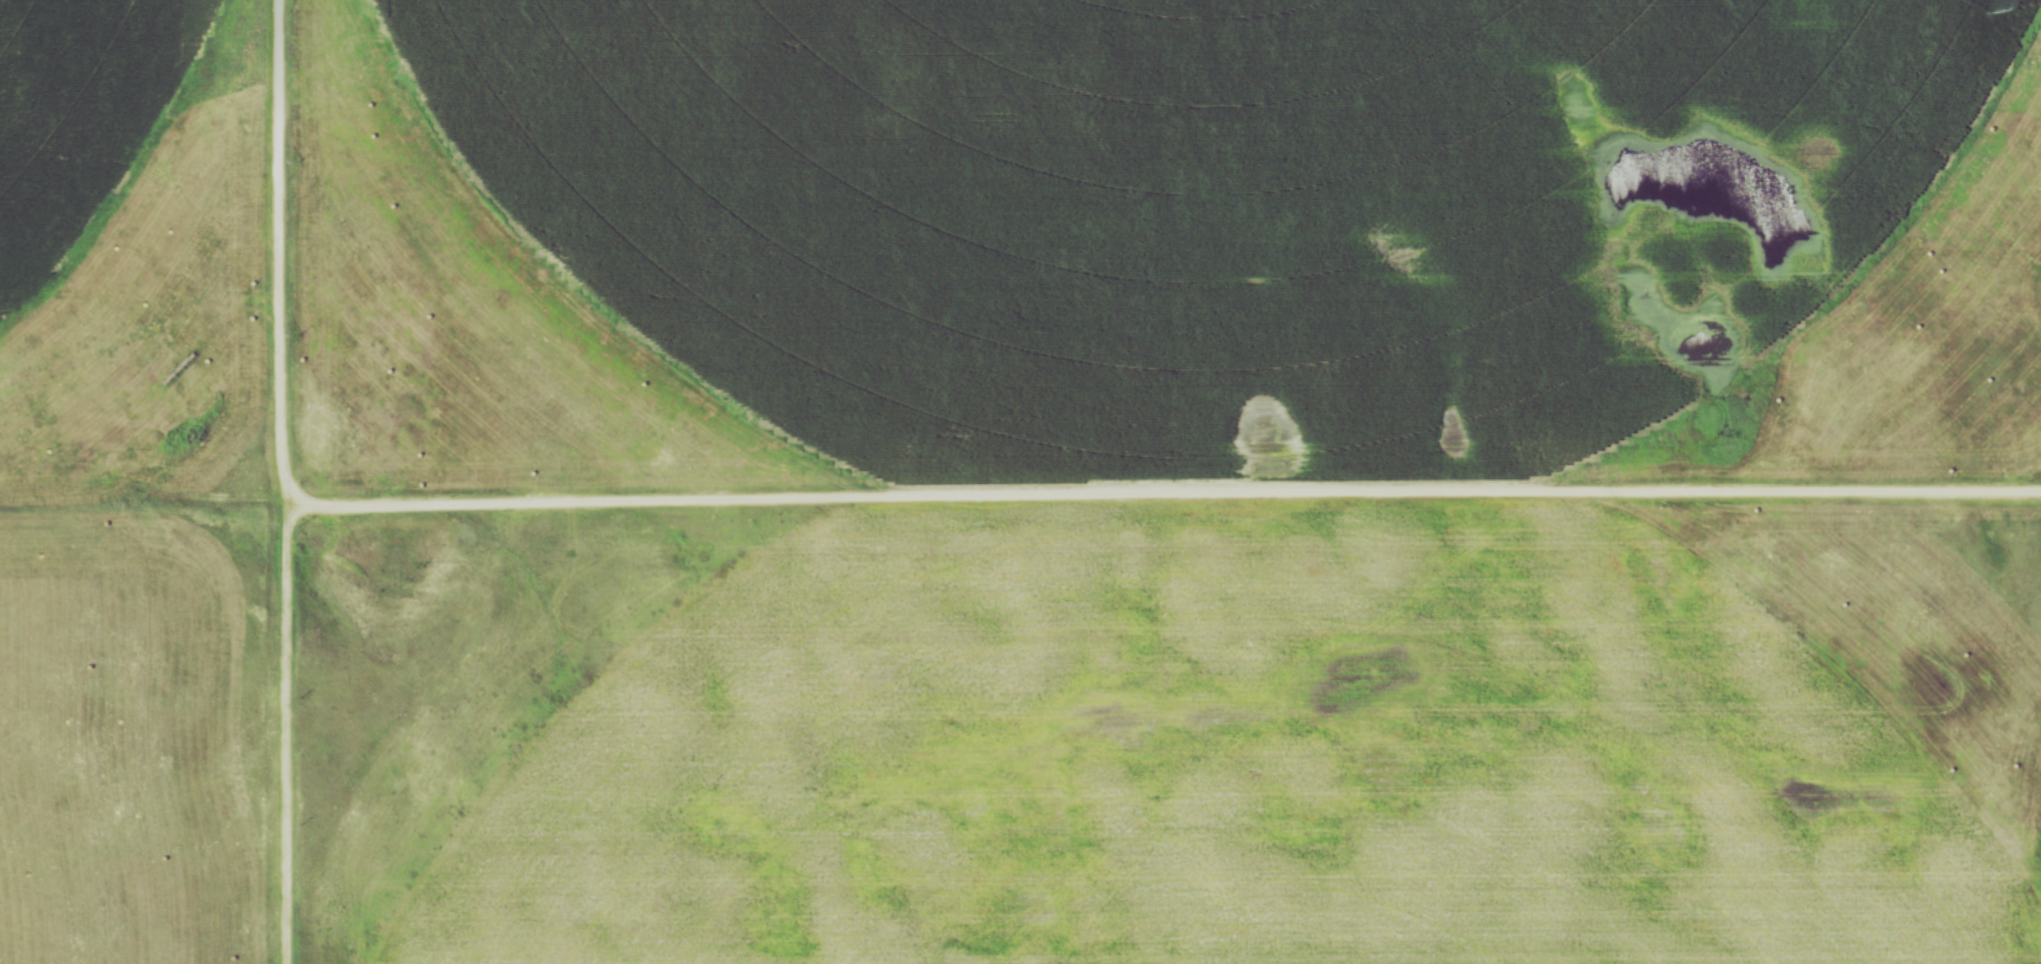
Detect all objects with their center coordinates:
road: (283, 481)

